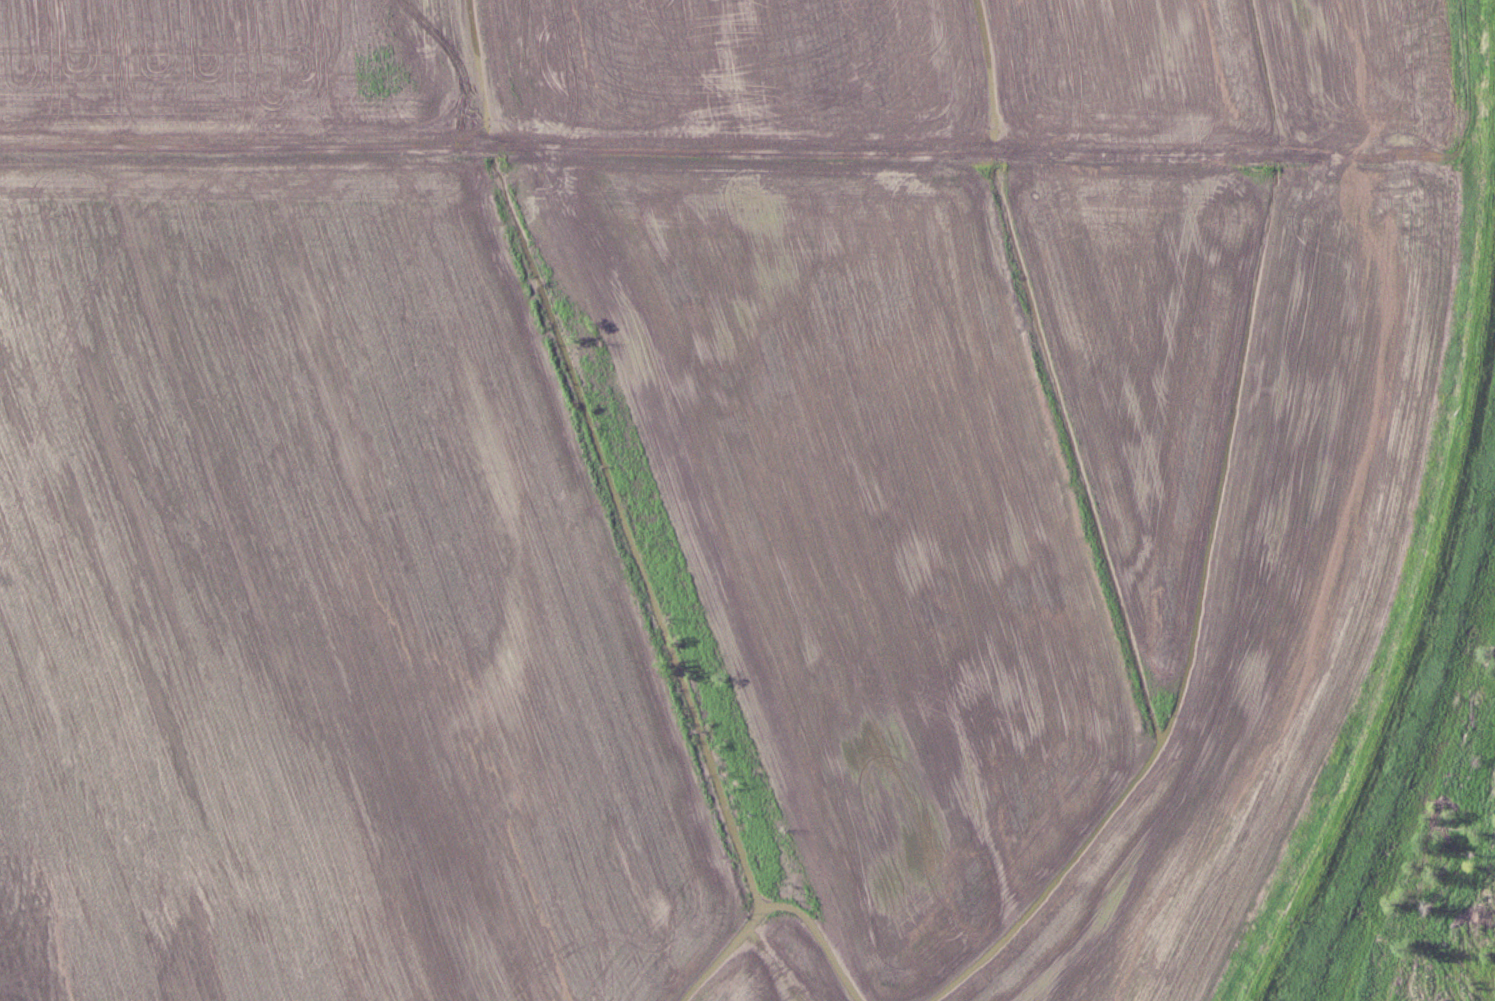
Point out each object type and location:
road: (1403, 761)

